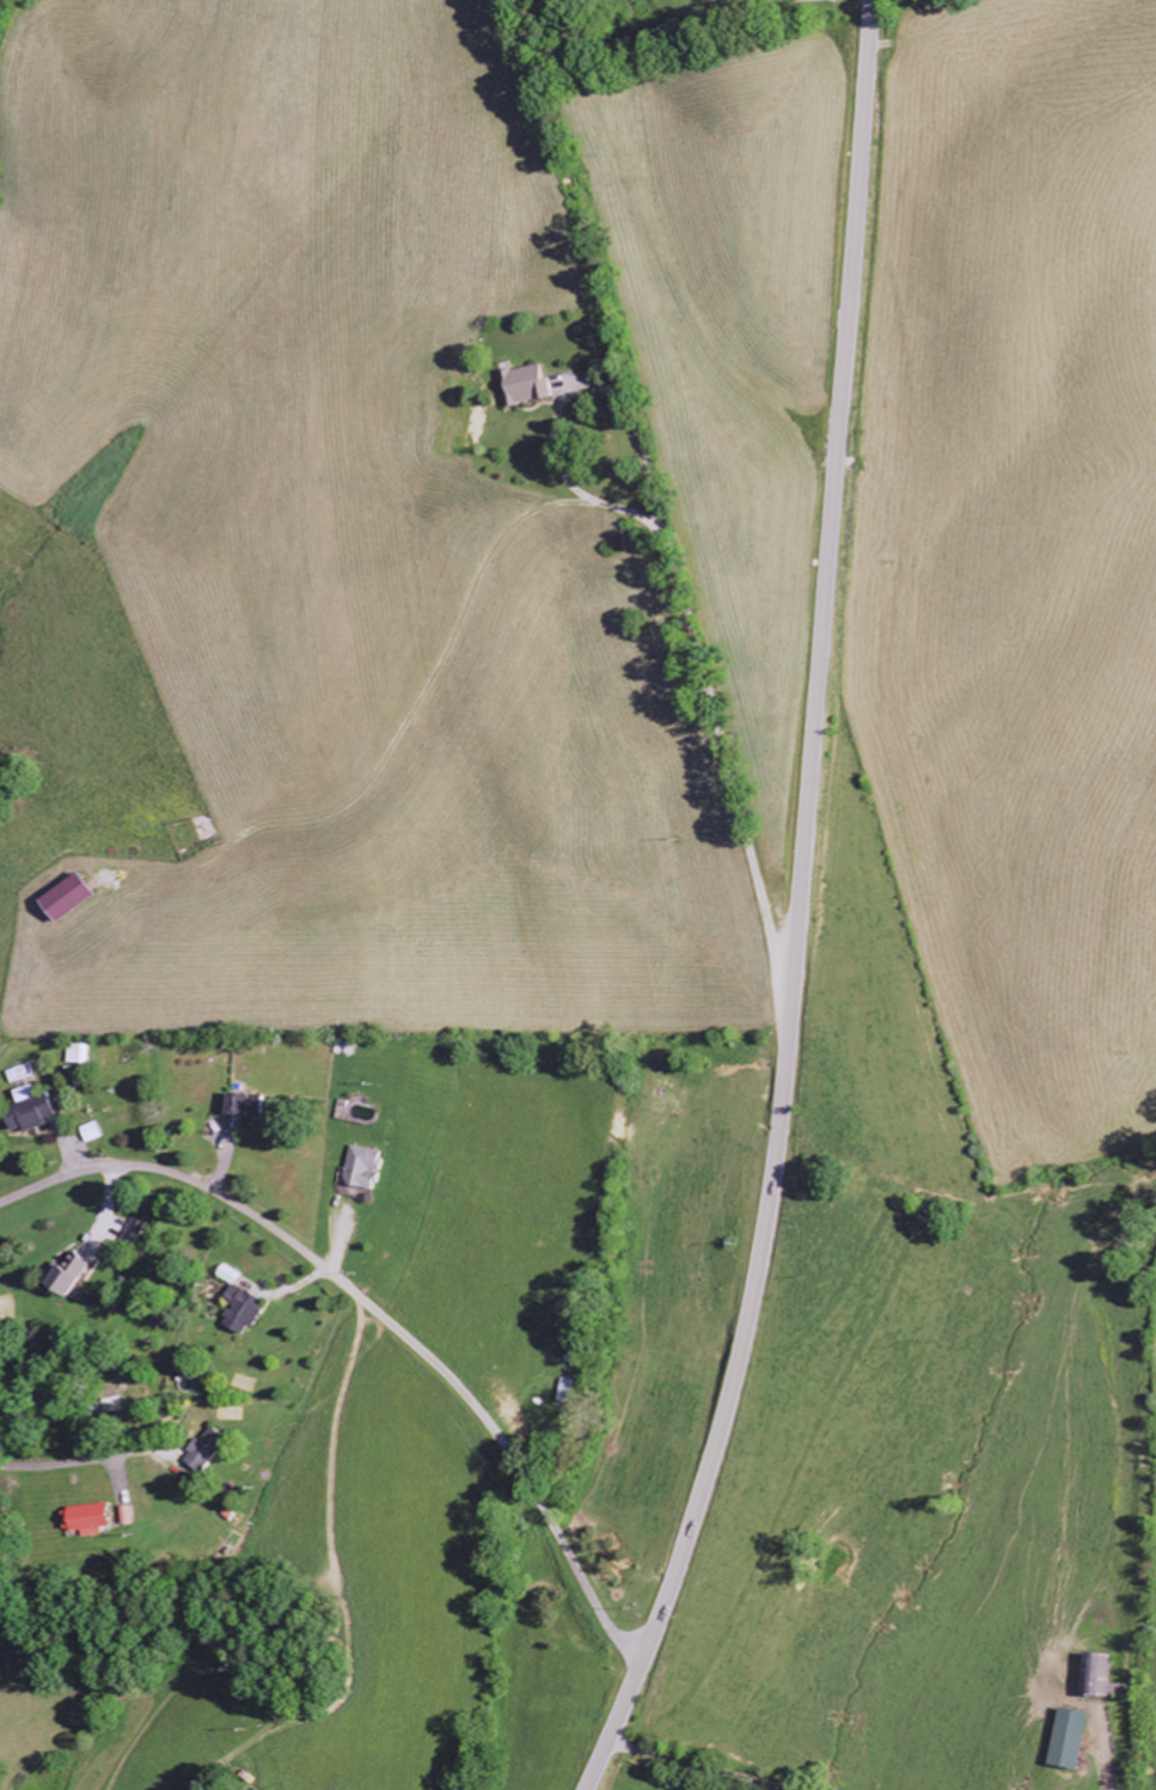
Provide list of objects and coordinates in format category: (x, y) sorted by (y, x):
building: (524, 385)
building: (63, 898)
road: (801, 909)
building: (241, 1106)
building: (29, 1114)
building: (360, 1168)
building: (134, 1234)
building: (69, 1277)
building: (241, 1311)
road: (380, 1316)
building: (116, 1405)
building: (207, 1449)
building: (91, 1520)
building: (1093, 1676)
building: (1114, 1691)
building: (1066, 1740)
road: (717, 1764)

